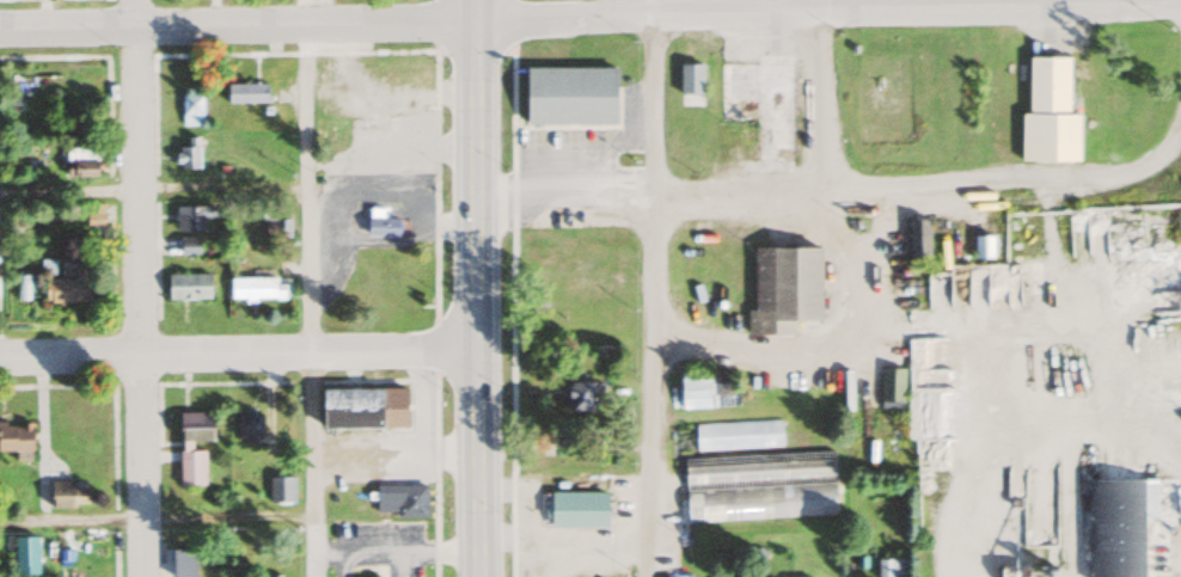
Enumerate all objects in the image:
road: (818, 11)
road: (235, 24)
building: (690, 75)
building: (245, 93)
road: (821, 94)
building: (569, 96)
building: (759, 103)
building: (190, 110)
building: (1048, 112)
building: (188, 154)
building: (80, 162)
road: (922, 183)
road: (67, 189)
building: (94, 216)
building: (195, 216)
building: (381, 226)
building: (281, 227)
building: (918, 237)
building: (188, 245)
building: (188, 286)
building: (784, 286)
building: (67, 288)
road: (134, 288)
building: (255, 288)
road: (306, 288)
road: (473, 288)
road: (647, 288)
building: (920, 333)
road: (237, 354)
building: (704, 389)
building: (576, 395)
building: (362, 407)
building: (195, 426)
building: (249, 426)
building: (736, 435)
building: (14, 436)
building: (190, 467)
building: (759, 486)
building: (281, 489)
building: (68, 495)
building: (400, 501)
building: (581, 504)
road: (154, 516)
building: (1118, 527)
building: (183, 563)

